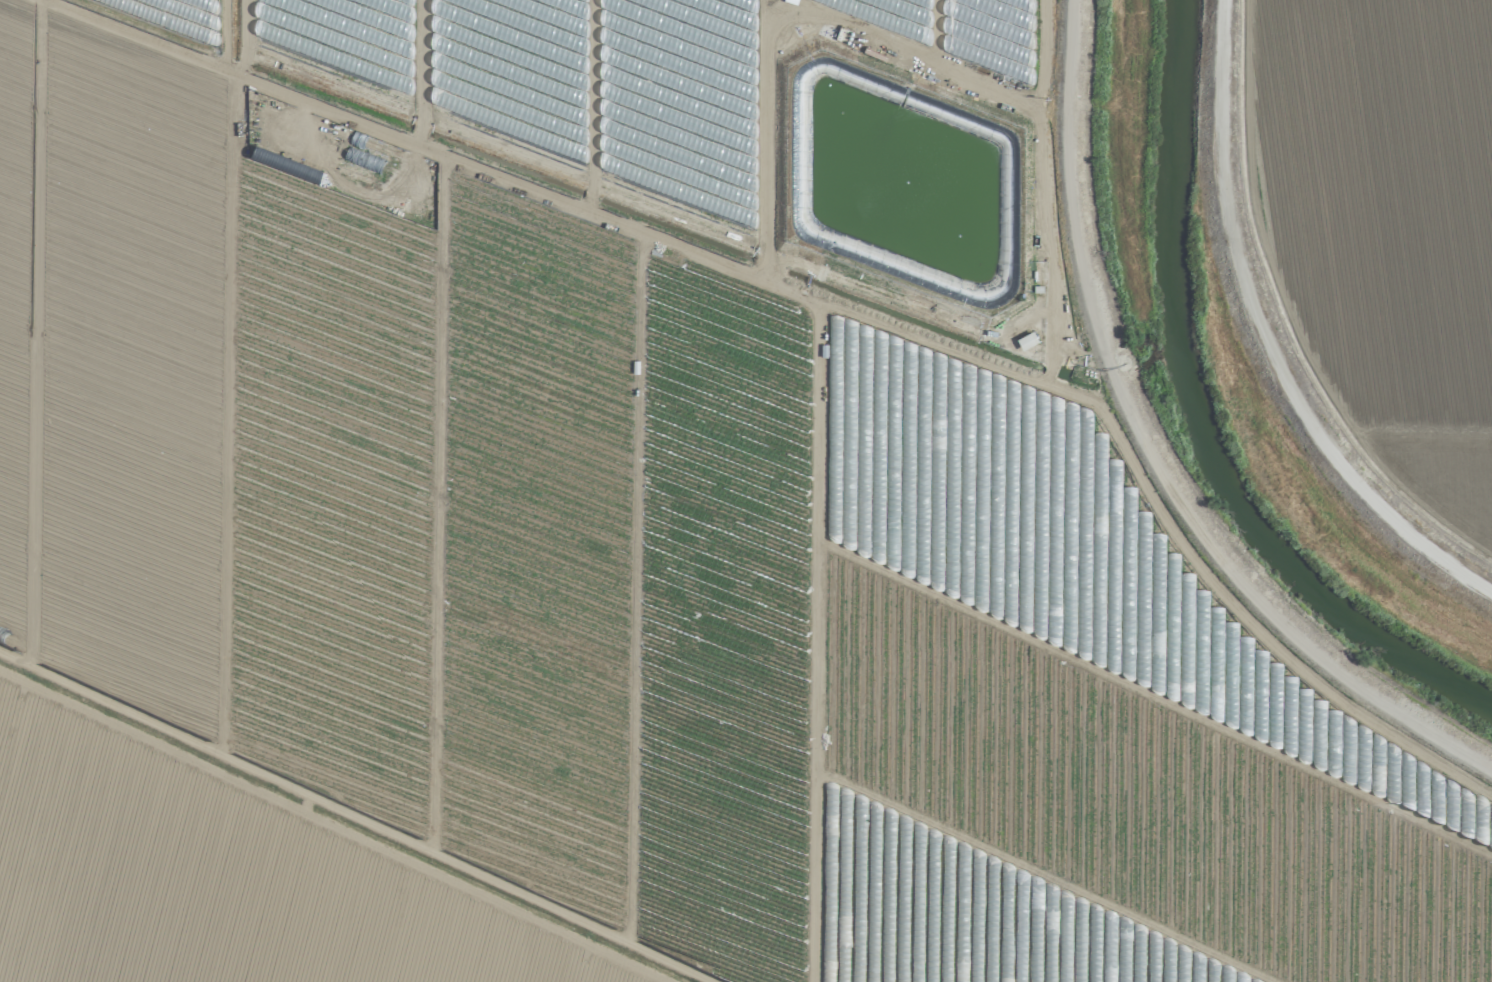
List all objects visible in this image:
crop: (1368, 231)
building: (1027, 339)
road: (1150, 458)
crop: (616, 531)

